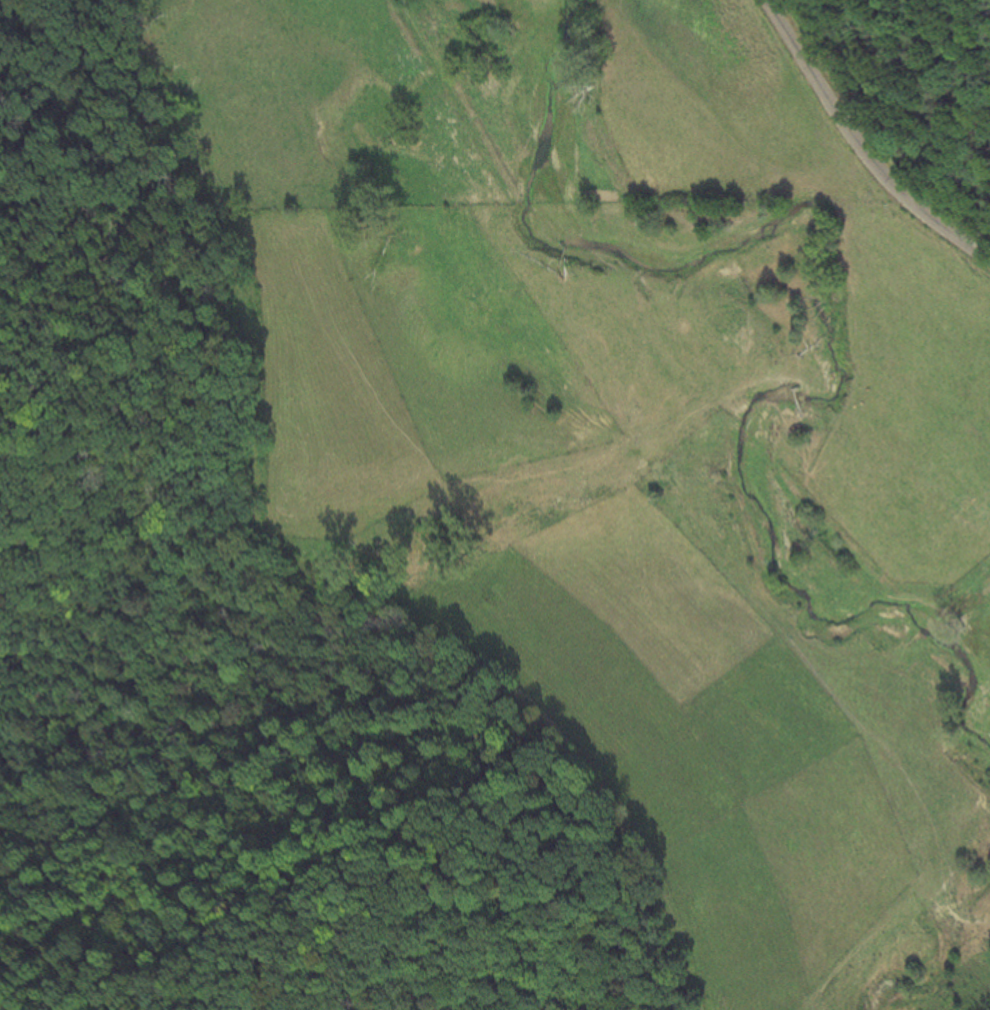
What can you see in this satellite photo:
road: (856, 148)

